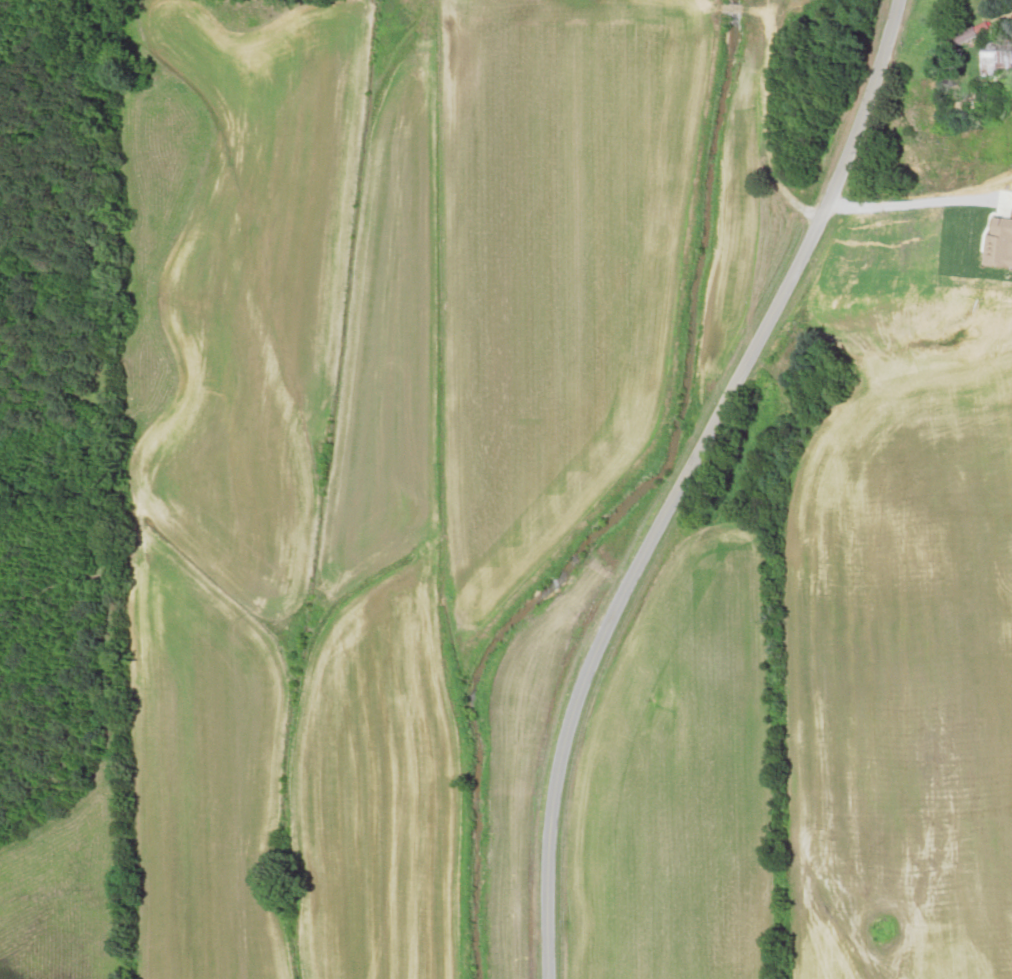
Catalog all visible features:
road: (961, 3)
building: (1002, 59)
building: (978, 177)
building: (884, 240)
road: (663, 476)

